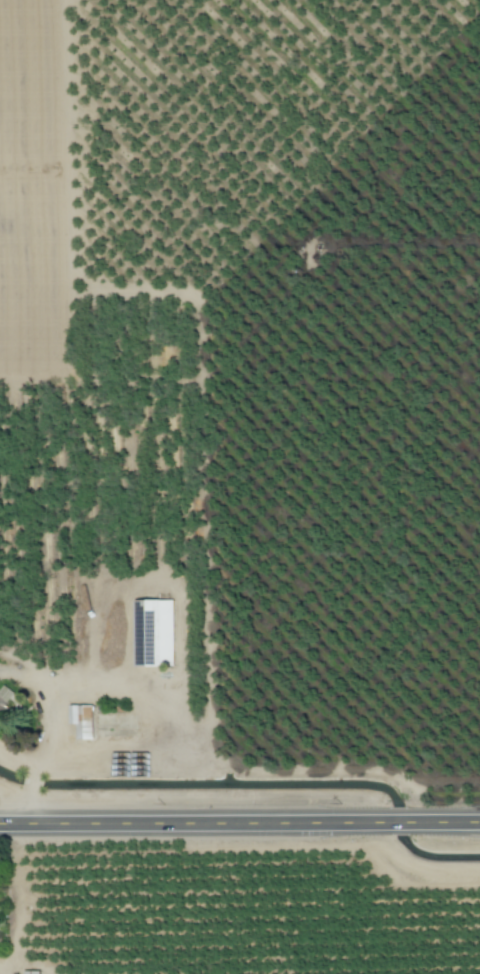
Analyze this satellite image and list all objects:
building: (154, 633)
building: (5, 698)
building: (83, 720)
road: (445, 822)
road: (194, 823)
road: (399, 823)
building: (32, 972)

